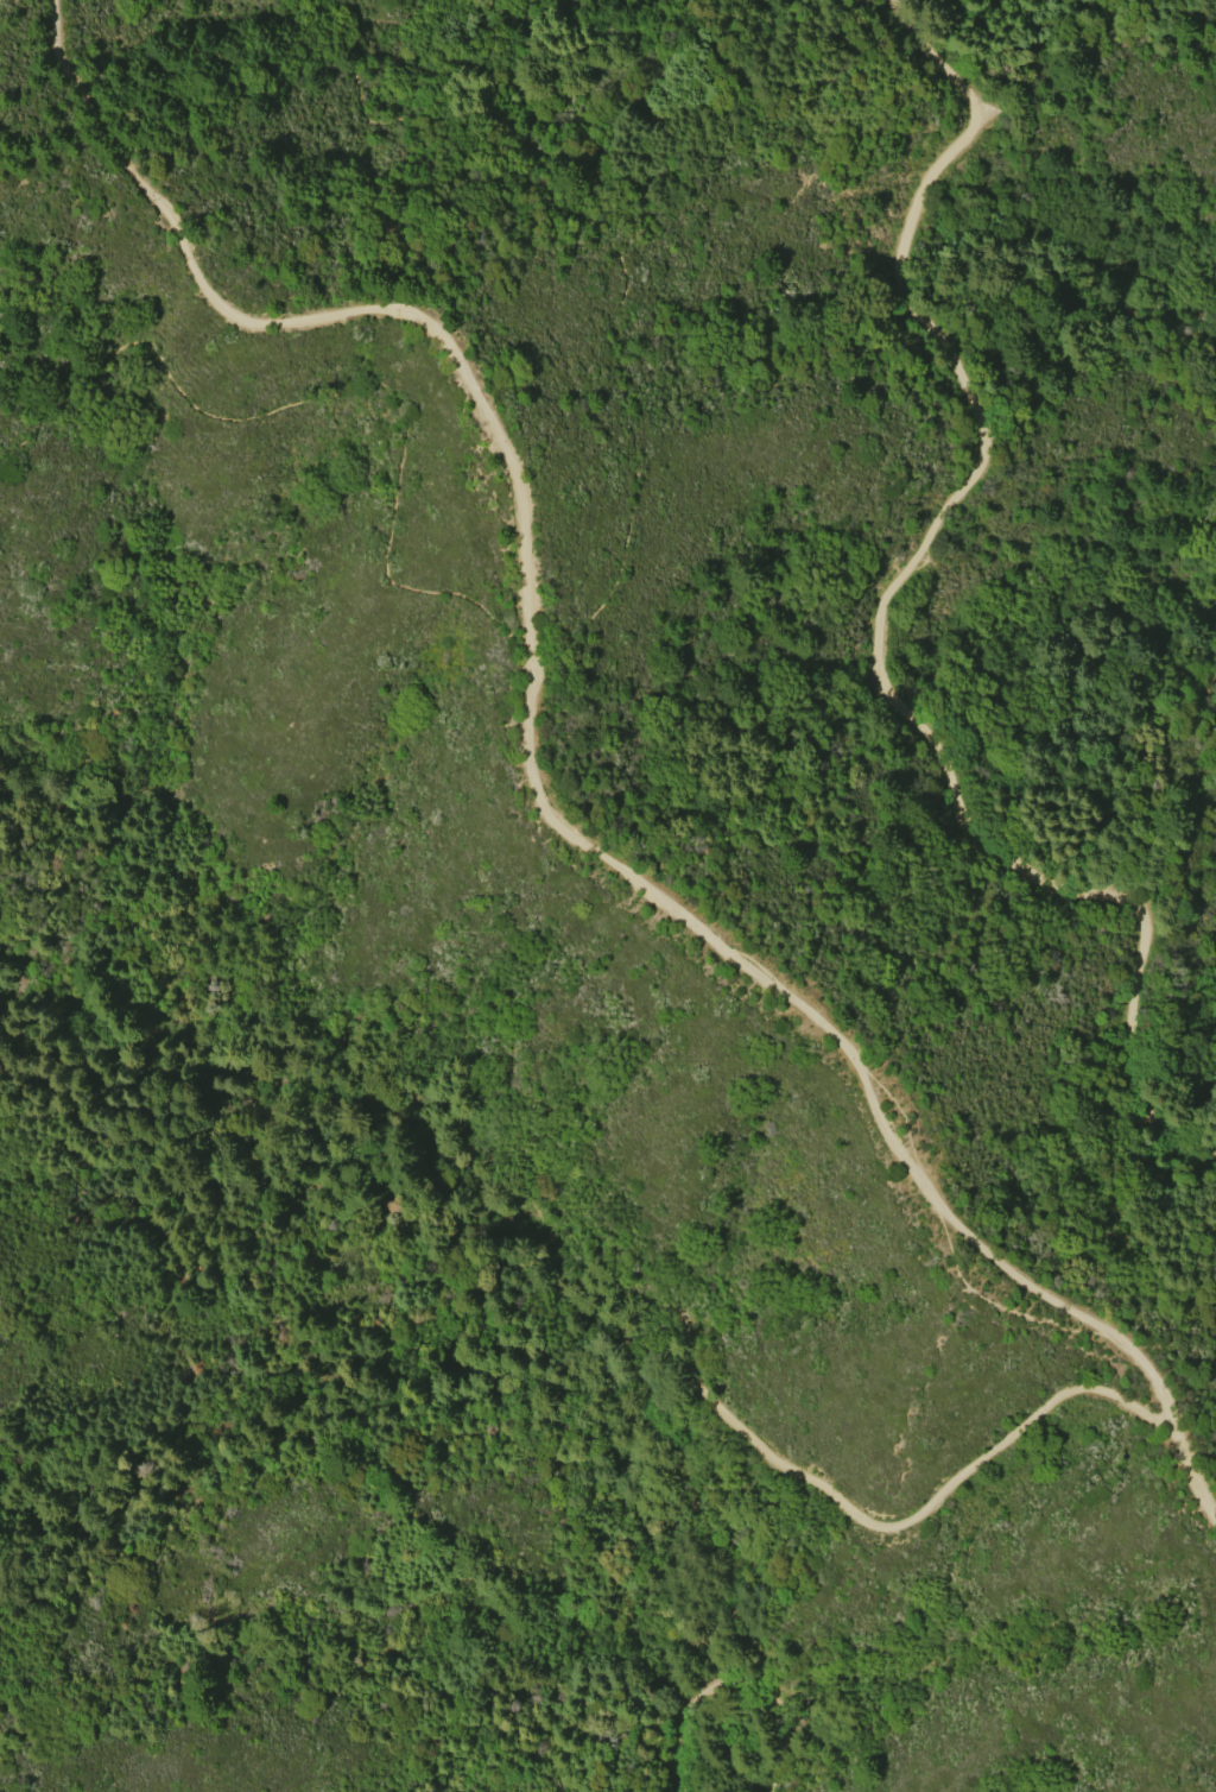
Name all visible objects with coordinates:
road: (883, 610)
road: (553, 644)
road: (538, 769)
road: (347, 1077)
road: (699, 1393)
road: (731, 1705)

